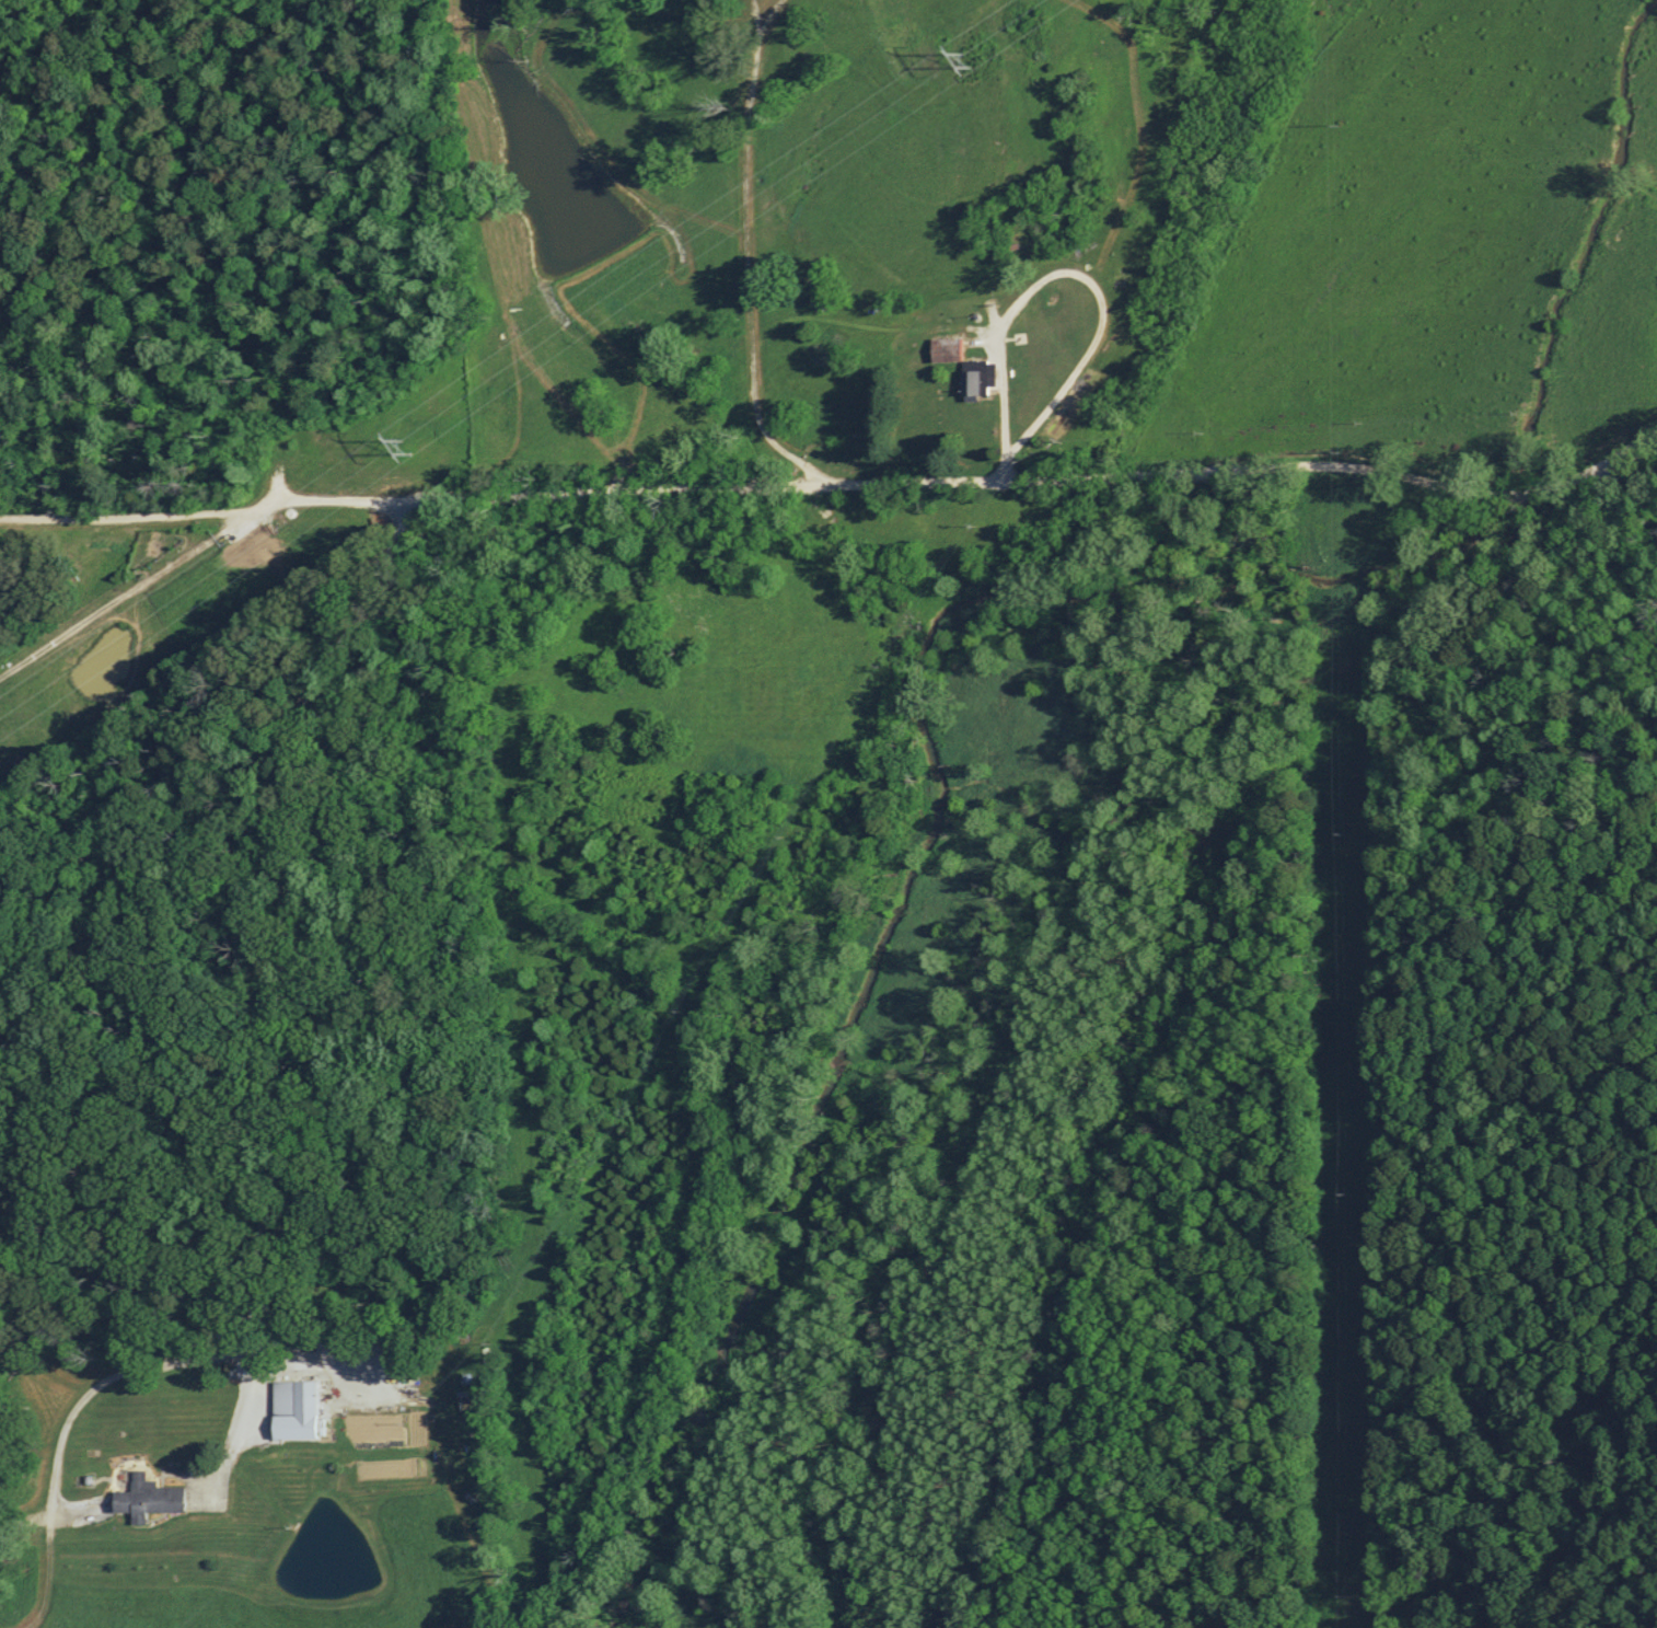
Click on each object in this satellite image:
power tower: (963, 58)
road: (812, 280)
building: (962, 365)
power tower: (402, 444)
road: (836, 488)
road: (273, 1064)
building: (291, 1409)
building: (146, 1499)

